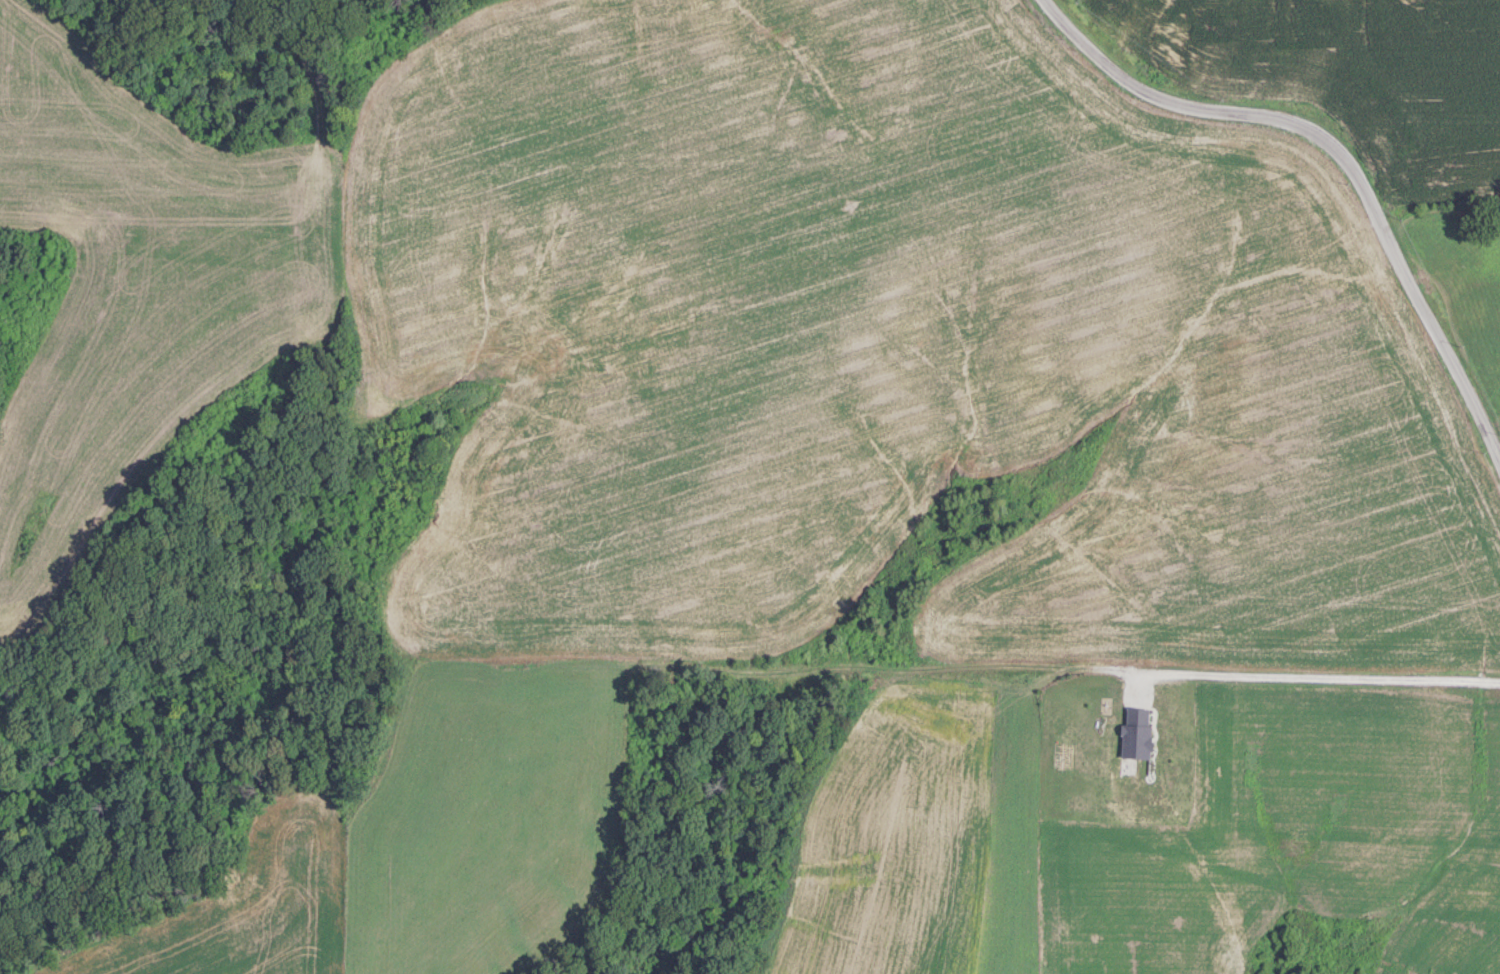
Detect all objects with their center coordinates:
road: (1341, 150)
road: (1322, 677)

